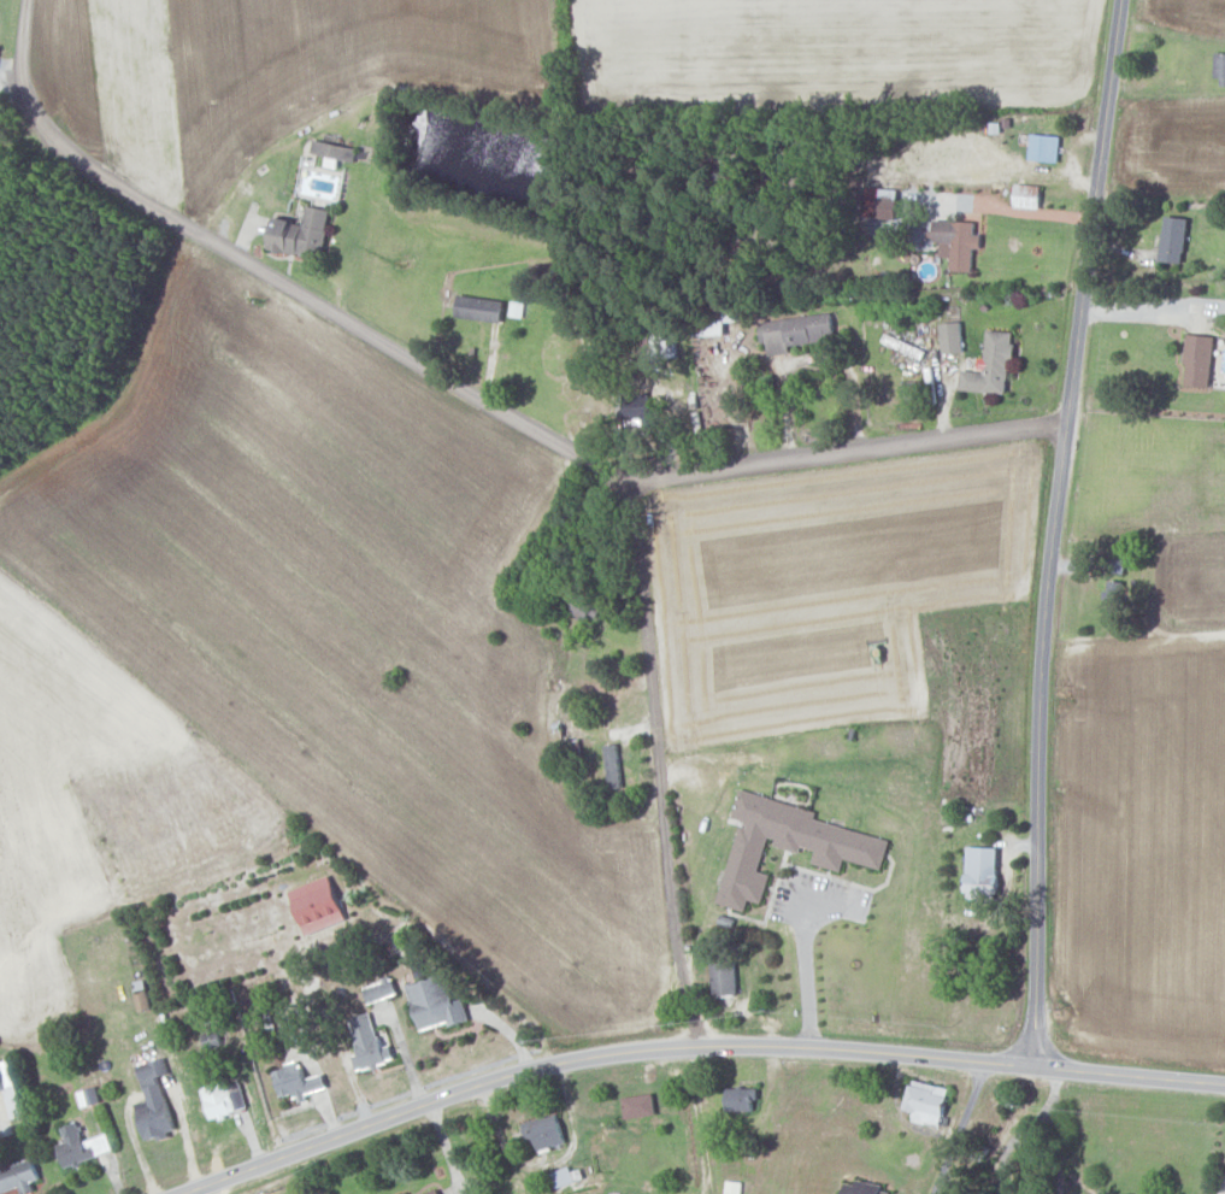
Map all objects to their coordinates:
building: (1044, 146)
building: (332, 152)
building: (1027, 195)
building: (888, 207)
road: (1023, 210)
building: (301, 233)
building: (1173, 239)
building: (956, 241)
road: (1153, 300)
building: (478, 307)
building: (719, 318)
building: (794, 331)
building: (952, 336)
building: (1199, 359)
building: (991, 365)
road: (461, 386)
building: (636, 406)
road: (1054, 533)
building: (1114, 594)
road: (659, 735)
building: (788, 845)
building: (317, 905)
road: (805, 954)
building: (723, 978)
building: (378, 990)
building: (436, 1004)
building: (367, 1043)
road: (697, 1052)
building: (295, 1081)
building: (10, 1089)
road: (1052, 1094)
building: (220, 1098)
building: (740, 1099)
building: (152, 1101)
building: (926, 1102)
building: (638, 1106)
road: (959, 1129)
building: (543, 1131)
road: (1009, 1145)
building: (78, 1146)
road: (1059, 1153)
building: (16, 1176)
building: (732, 1187)
road: (1223, 1187)
building: (861, 1188)
building: (431, 1192)
building: (405, 1193)

